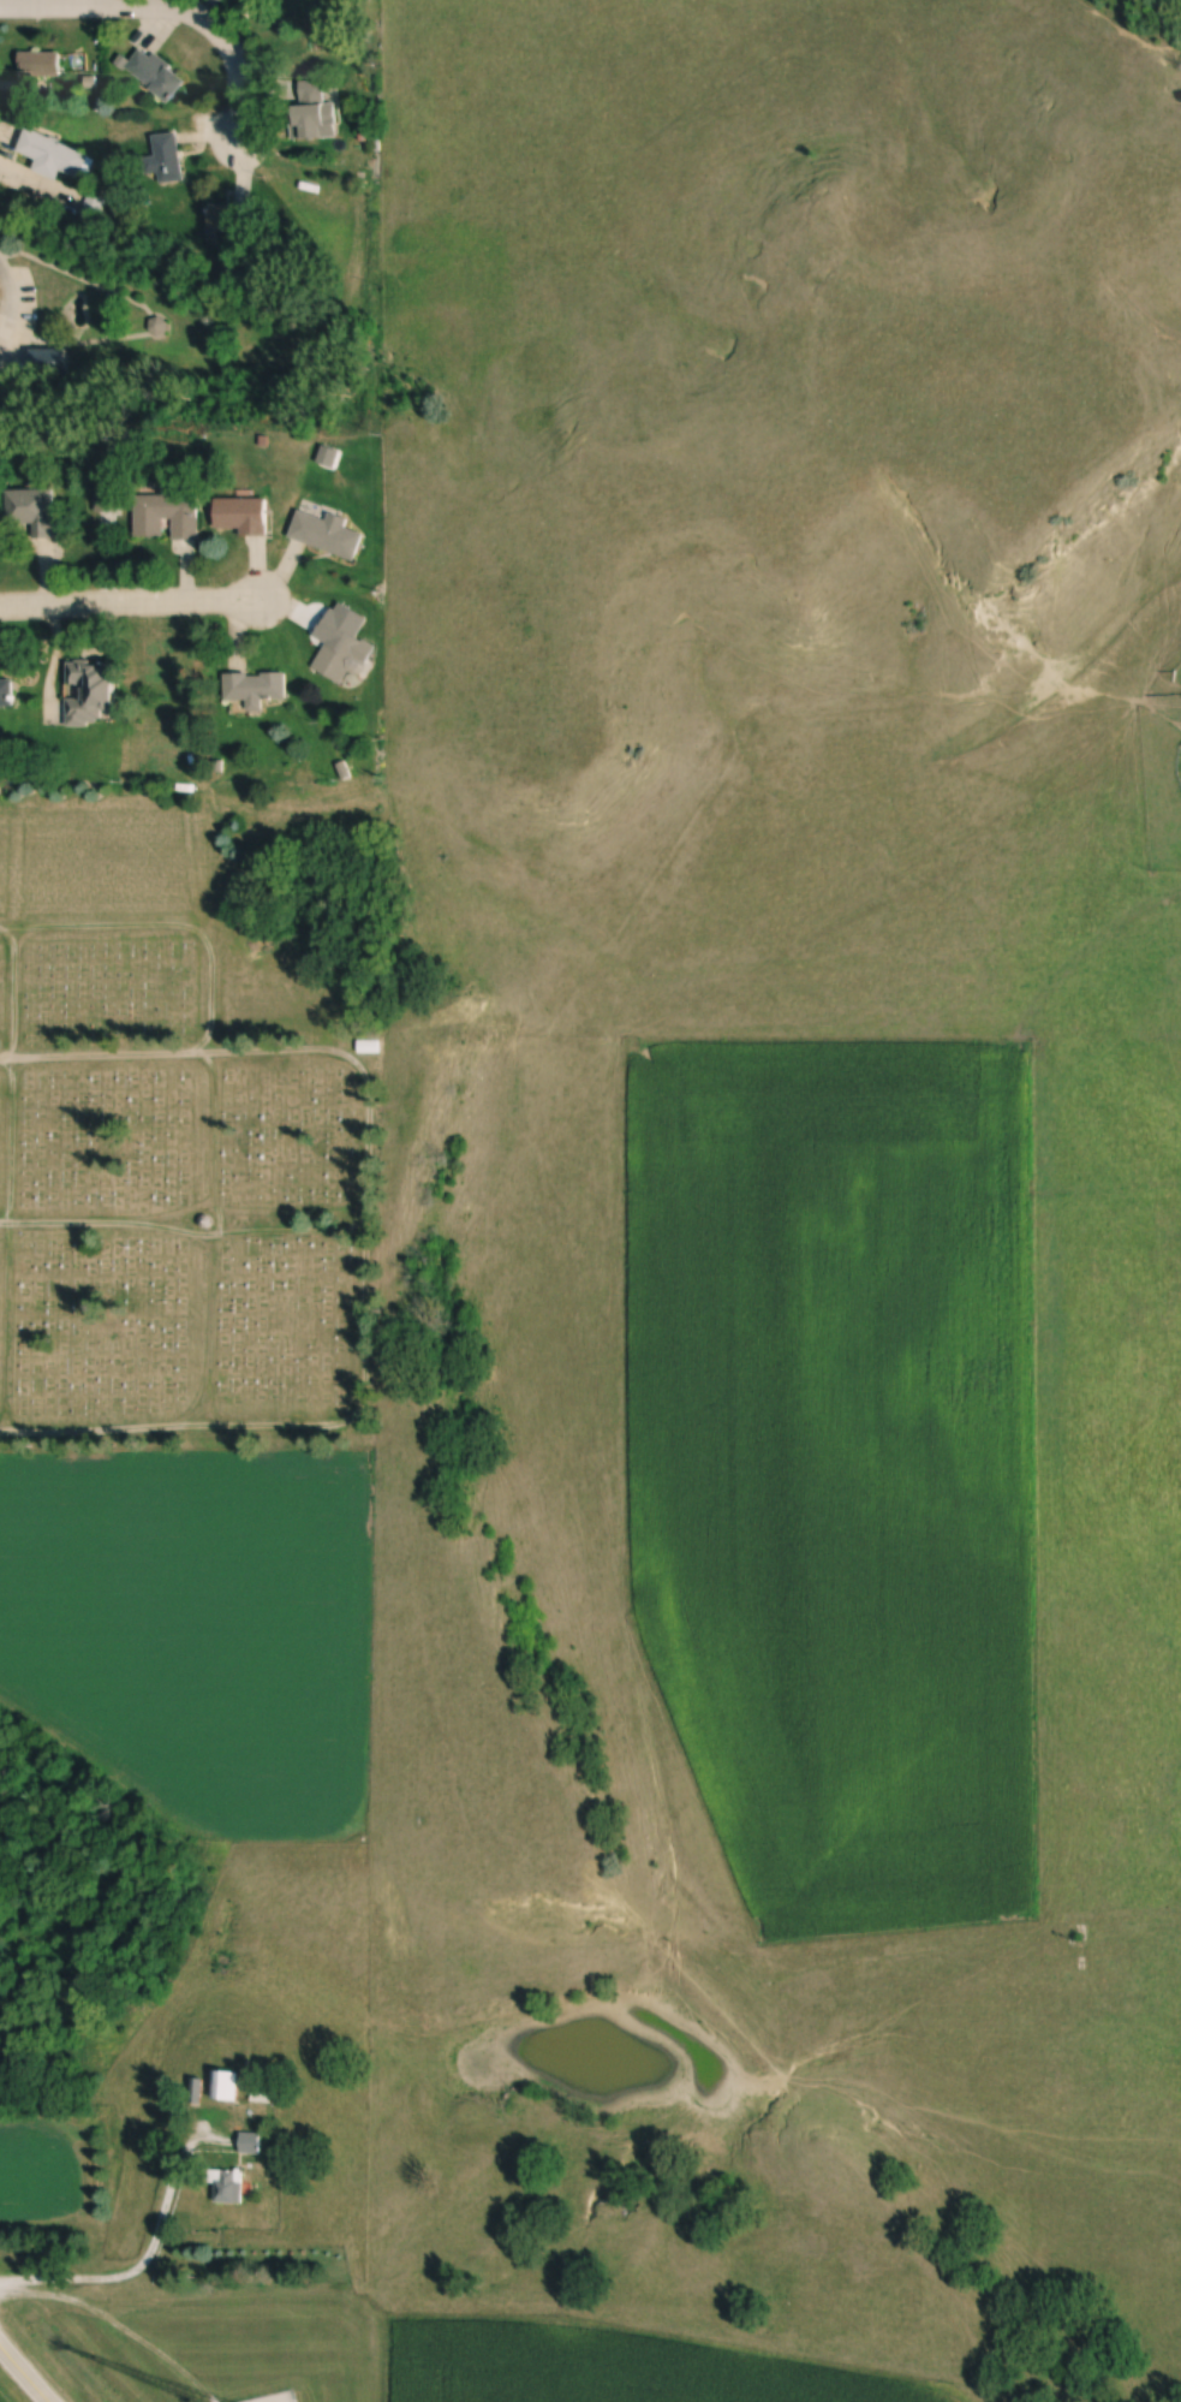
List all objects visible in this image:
road: (163, 13)
building: (40, 64)
building: (156, 73)
building: (316, 105)
building: (58, 157)
building: (166, 159)
building: (227, 220)
road: (12, 304)
building: (31, 506)
building: (168, 515)
building: (243, 515)
building: (328, 534)
road: (131, 600)
building: (346, 654)
building: (256, 688)
building: (7, 692)
building: (91, 694)
road: (102, 923)
building: (370, 1047)
road: (169, 1053)
park: (189, 1120)
road: (11, 1178)
road: (213, 1179)
road: (181, 1230)
road: (359, 1405)
building: (227, 2087)
building: (251, 2142)
building: (228, 2186)
road: (154, 2246)
road: (2, 2284)
road: (120, 2324)
road: (25, 2372)

